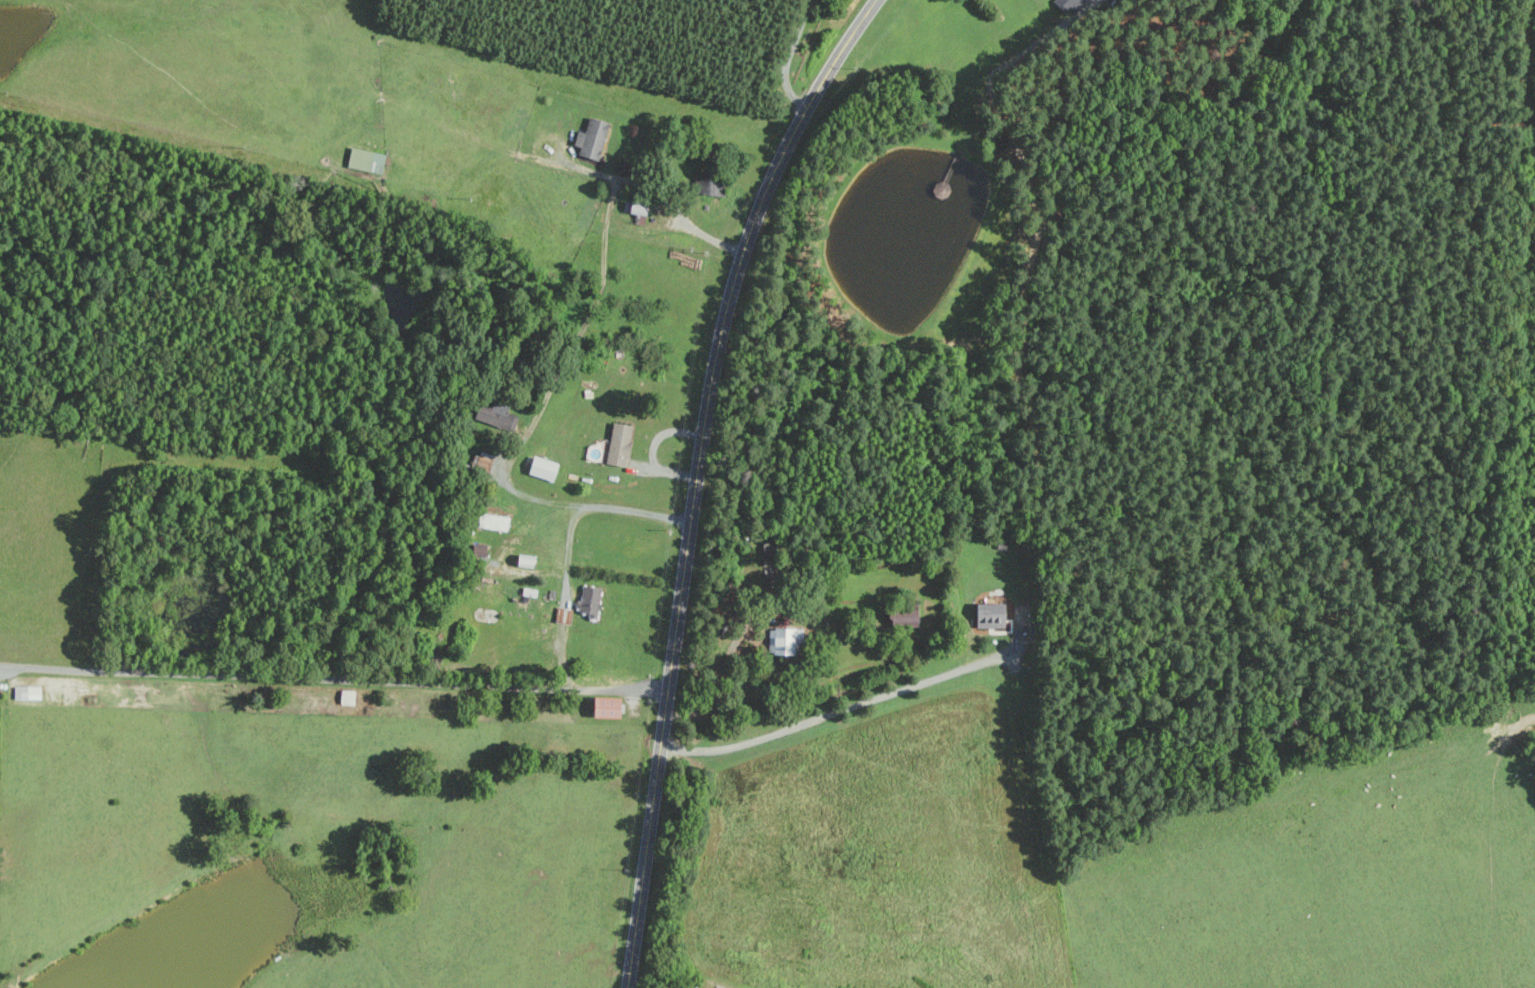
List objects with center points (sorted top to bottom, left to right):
building: (1065, 5)
road: (789, 58)
building: (590, 137)
building: (364, 159)
road: (660, 197)
building: (636, 207)
building: (617, 444)
building: (483, 461)
building: (540, 467)
road: (697, 477)
road: (526, 497)
building: (588, 600)
building: (562, 615)
building: (990, 617)
building: (781, 640)
road: (428, 684)
road: (615, 689)
building: (25, 692)
road: (854, 705)
building: (603, 707)

